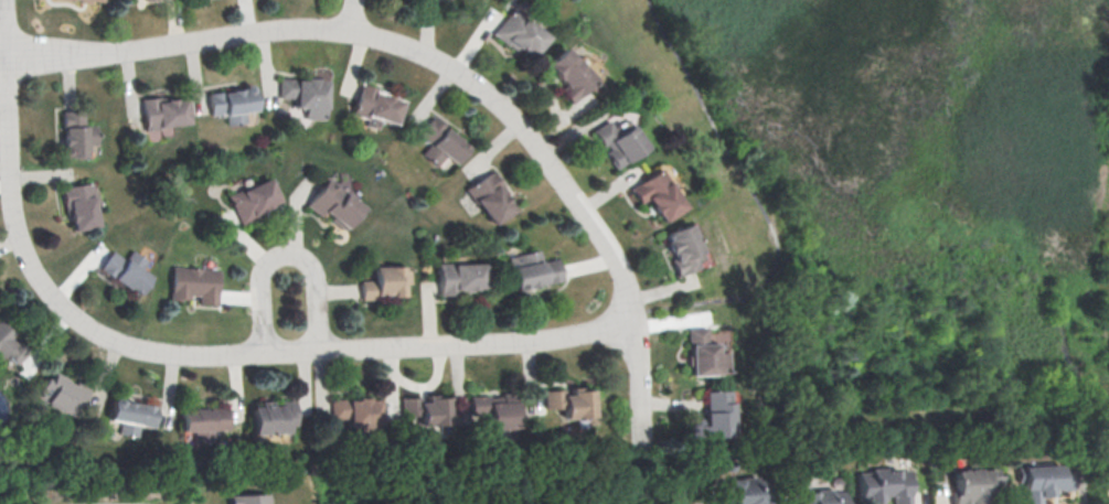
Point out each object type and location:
building: (93, 0)
road: (353, 15)
building: (518, 31)
road: (3, 52)
road: (3, 56)
road: (447, 65)
building: (565, 73)
building: (307, 94)
building: (233, 103)
building: (380, 103)
building: (163, 110)
building: (79, 138)
building: (441, 140)
building: (614, 140)
building: (654, 192)
building: (491, 196)
building: (255, 199)
building: (81, 203)
building: (335, 204)
road: (759, 204)
building: (680, 247)
road: (290, 253)
building: (126, 268)
building: (531, 268)
building: (462, 275)
building: (388, 280)
building: (196, 281)
building: (11, 345)
building: (701, 353)
road: (180, 354)
building: (63, 393)
building: (567, 400)
building: (427, 408)
building: (494, 410)
building: (358, 411)
building: (715, 411)
building: (132, 414)
building: (274, 417)
building: (205, 420)
building: (1044, 480)
building: (886, 483)
building: (974, 485)
building: (743, 491)
building: (820, 494)
building: (250, 497)

